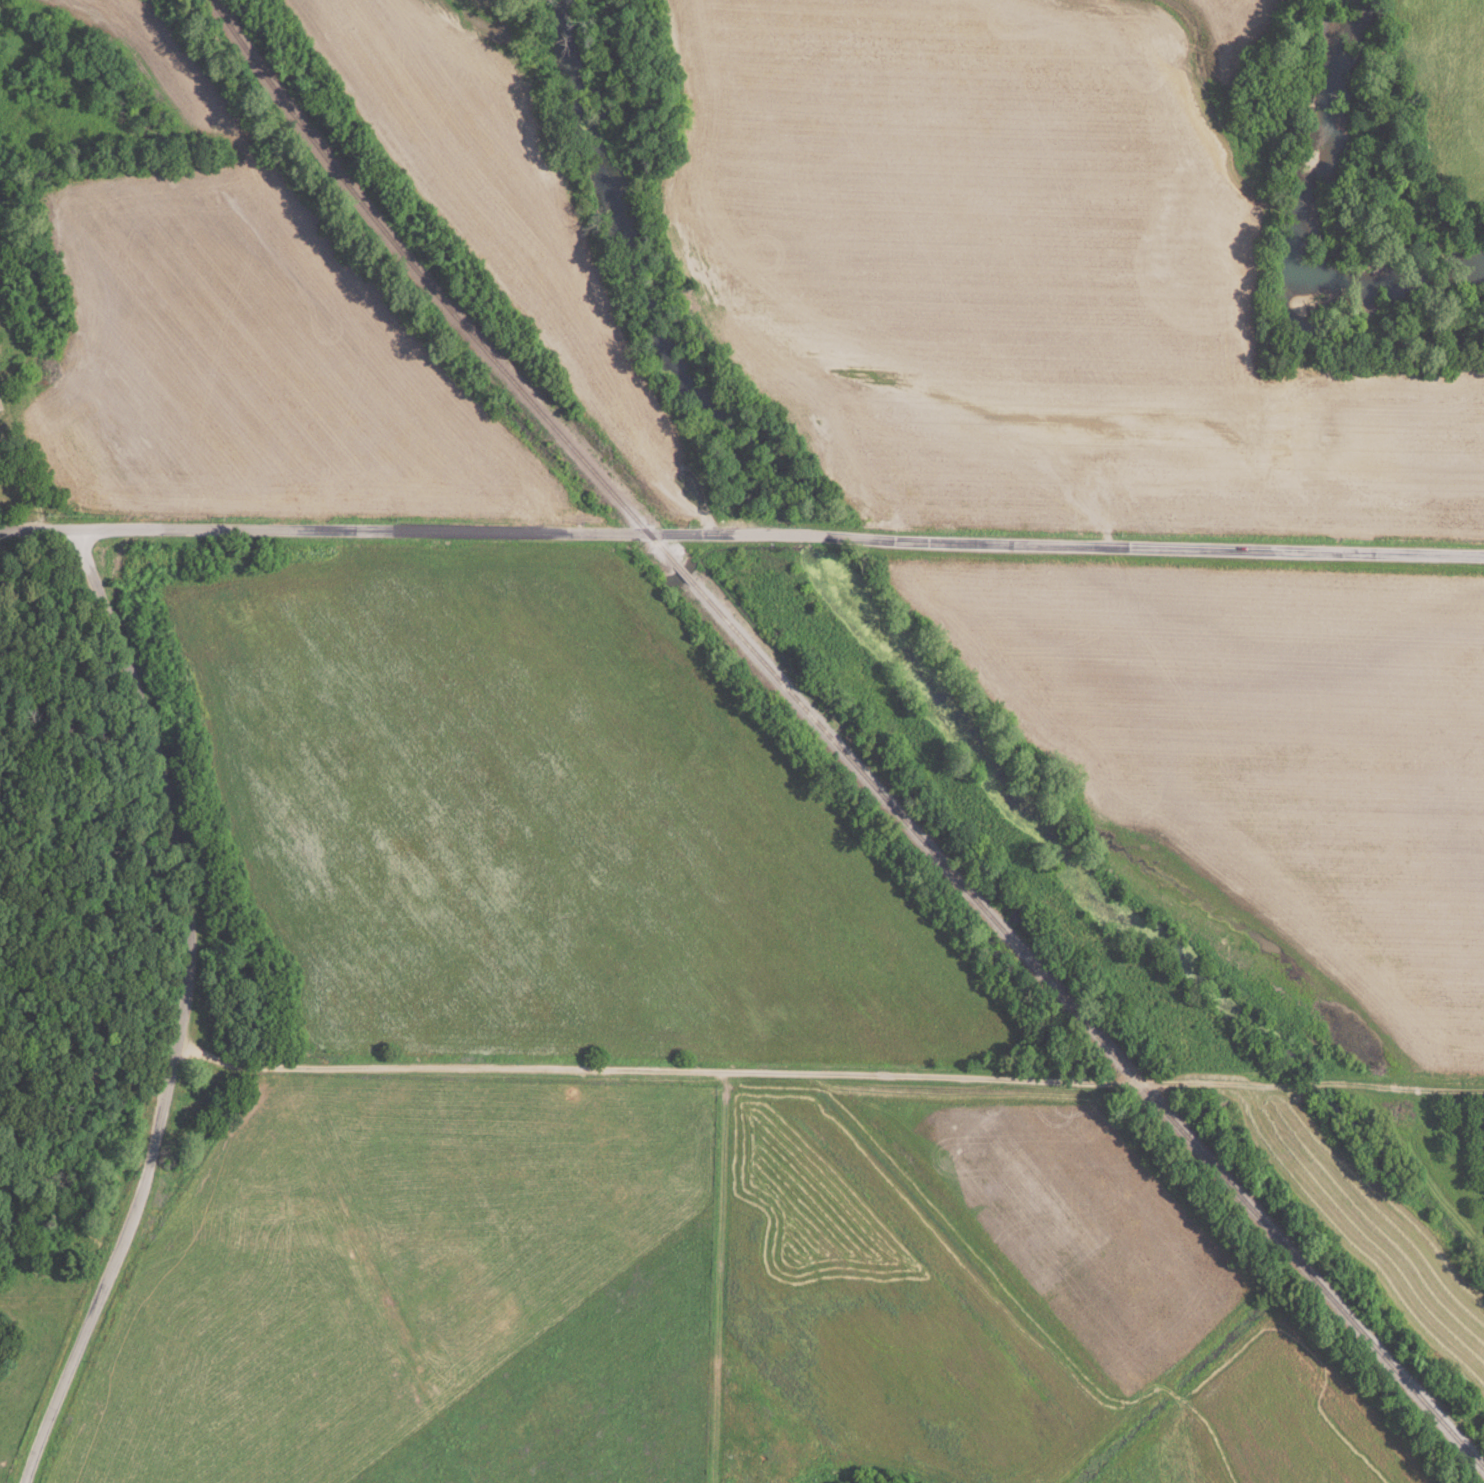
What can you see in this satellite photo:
railway: (432, 291)
road: (742, 532)
railway: (681, 575)
road: (189, 1008)
railway: (1084, 1028)

